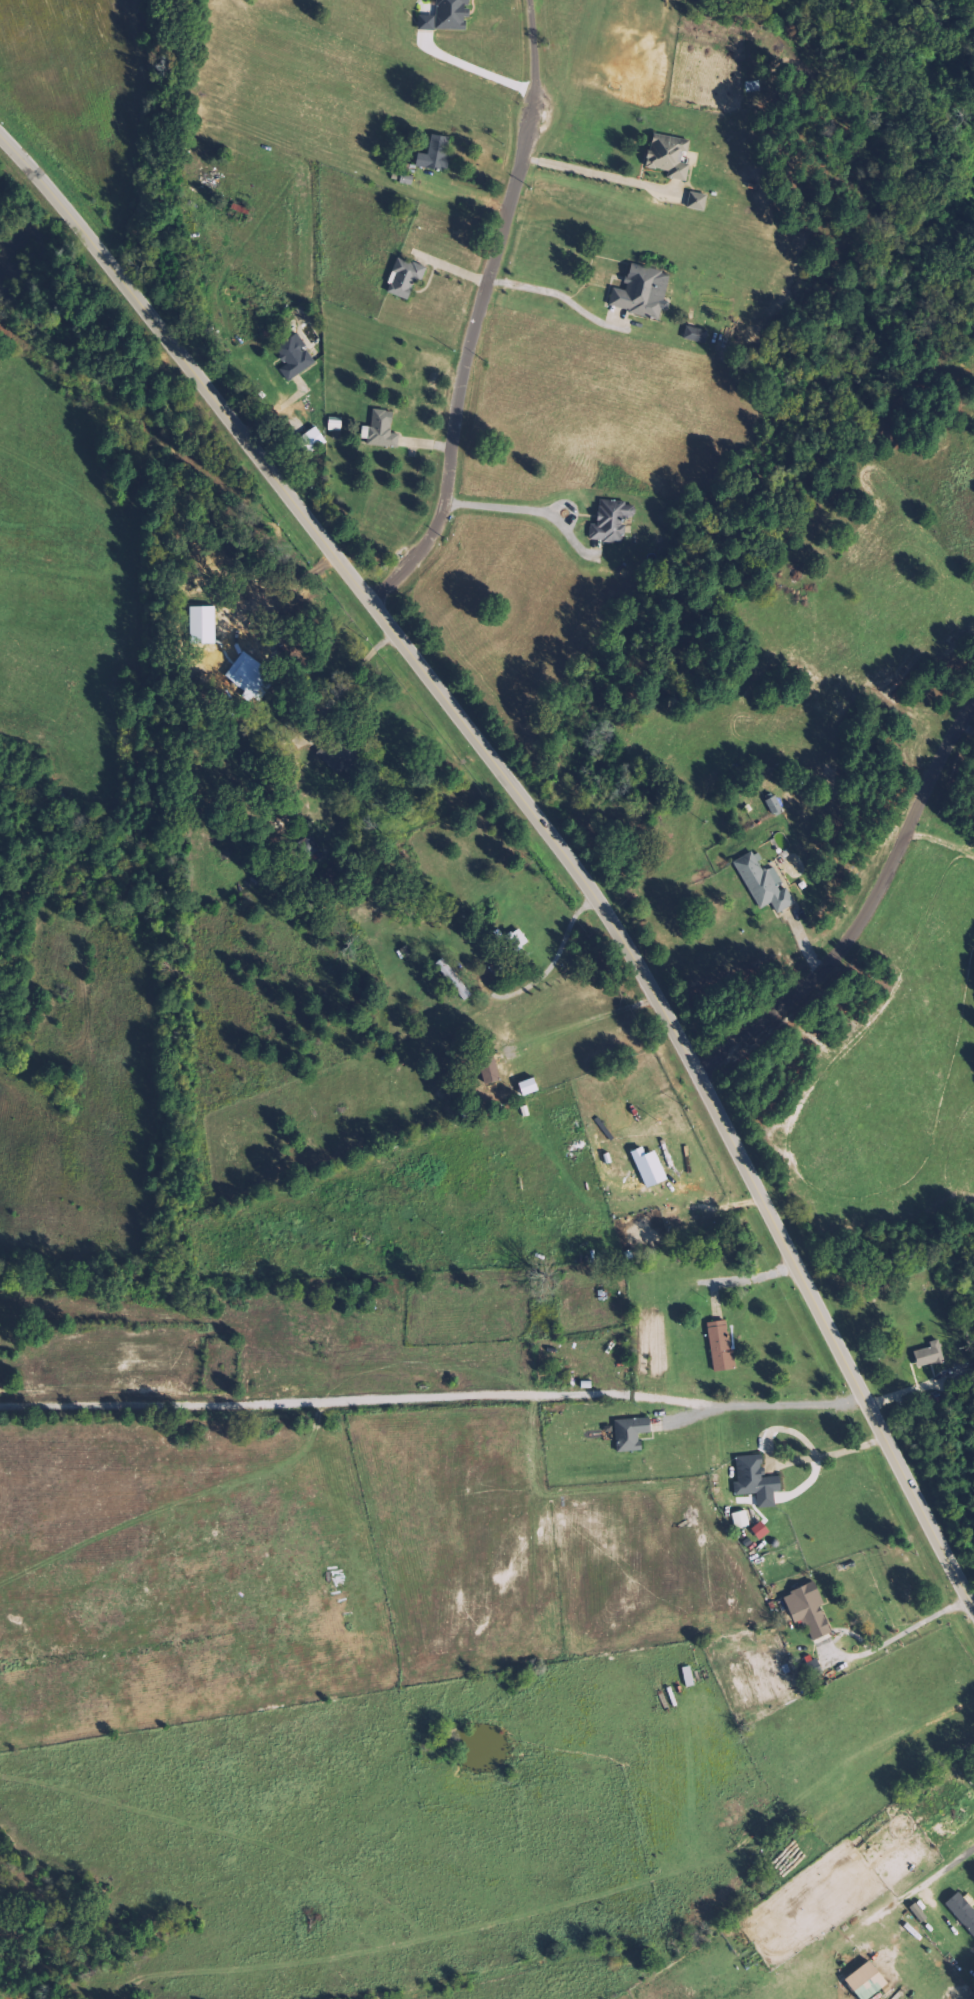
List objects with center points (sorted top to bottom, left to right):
building: (453, 14)
building: (437, 153)
building: (670, 156)
building: (698, 201)
building: (406, 278)
building: (643, 292)
road: (557, 293)
road: (477, 308)
building: (696, 334)
building: (296, 357)
building: (336, 423)
building: (382, 430)
building: (316, 439)
road: (562, 501)
road: (498, 504)
building: (612, 521)
building: (335, 759)
building: (775, 805)
road: (542, 823)
building: (764, 883)
road: (869, 919)
building: (518, 940)
road: (557, 958)
building: (531, 1087)
building: (721, 1346)
building: (930, 1355)
building: (632, 1434)
building: (756, 1481)
building: (740, 1519)
building: (761, 1531)
building: (810, 1611)
building: (815, 1669)
road: (942, 1864)
building: (962, 1910)
building: (921, 1915)
building: (868, 1981)

